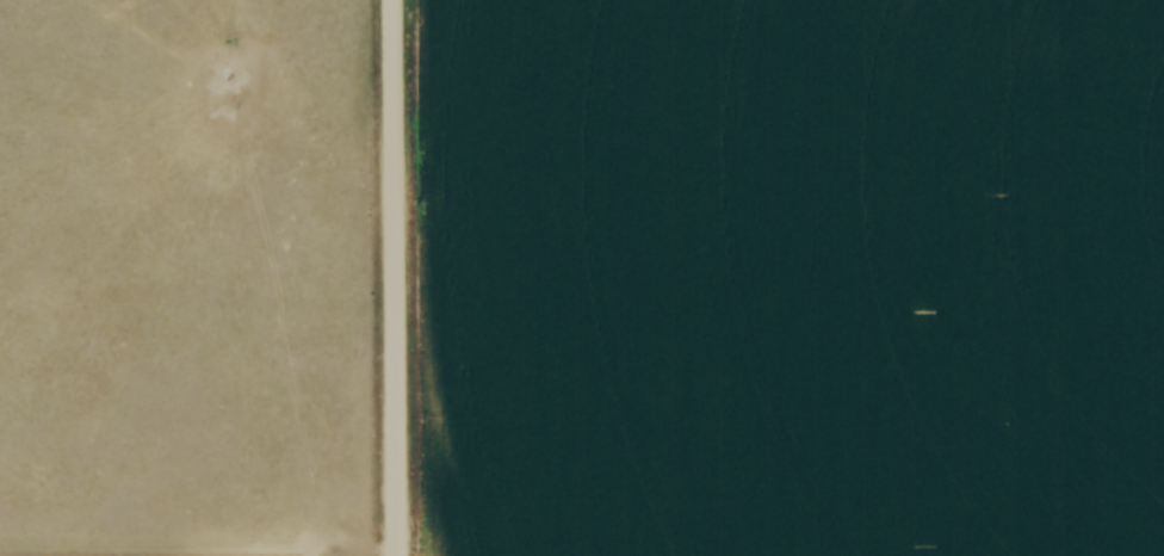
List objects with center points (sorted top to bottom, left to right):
road: (394, 278)

